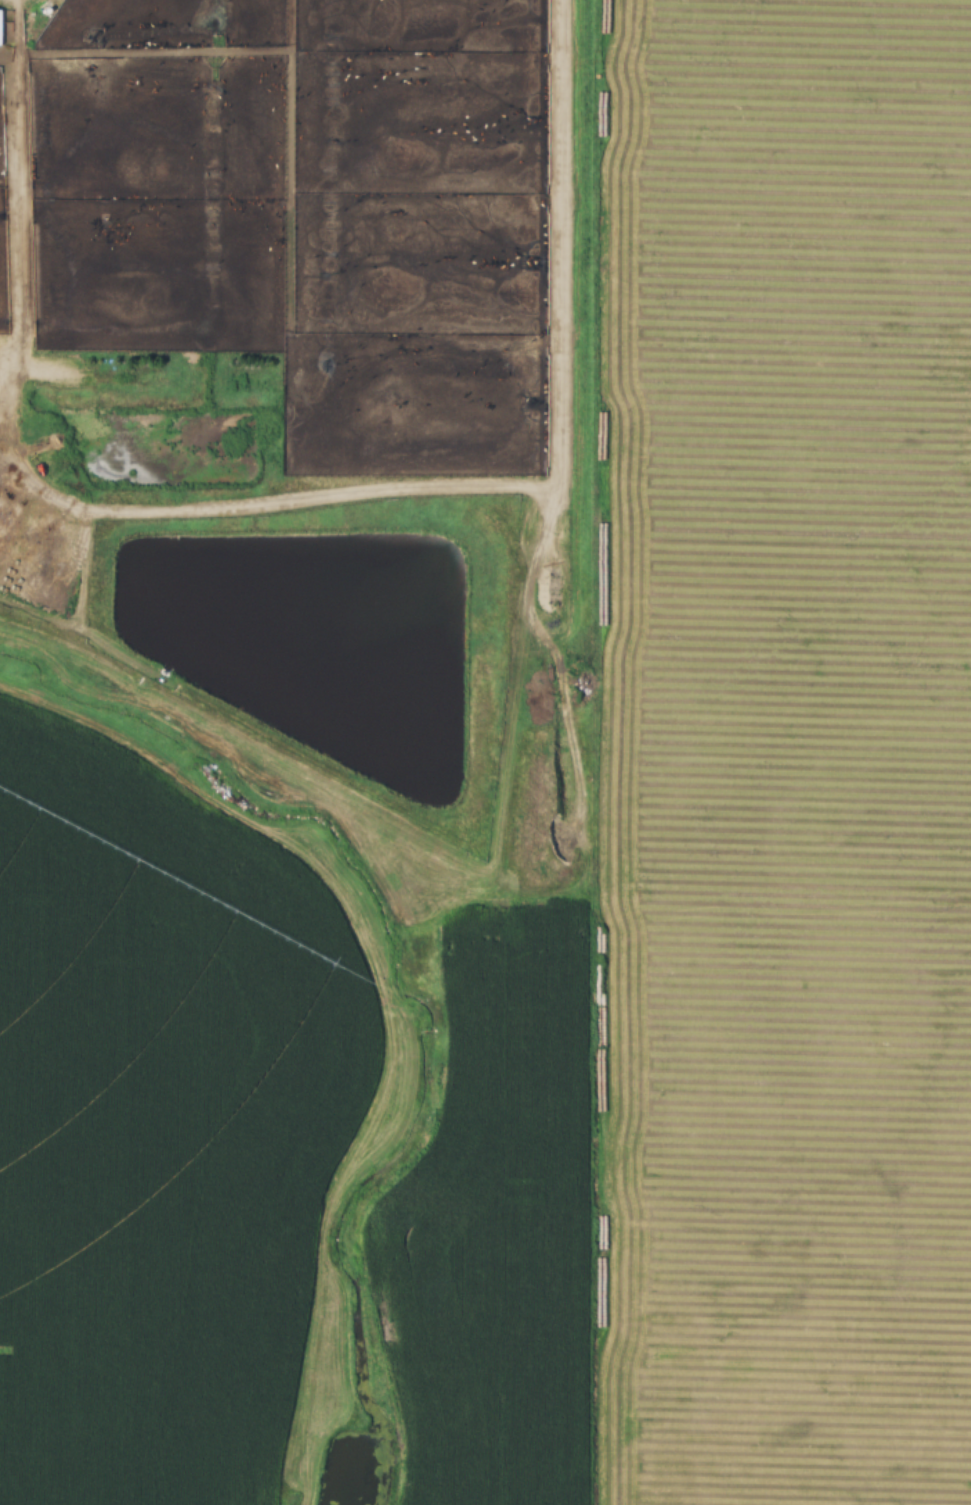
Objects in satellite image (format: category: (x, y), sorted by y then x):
building: (0, 27)
road: (514, 489)
building: (445, 722)

